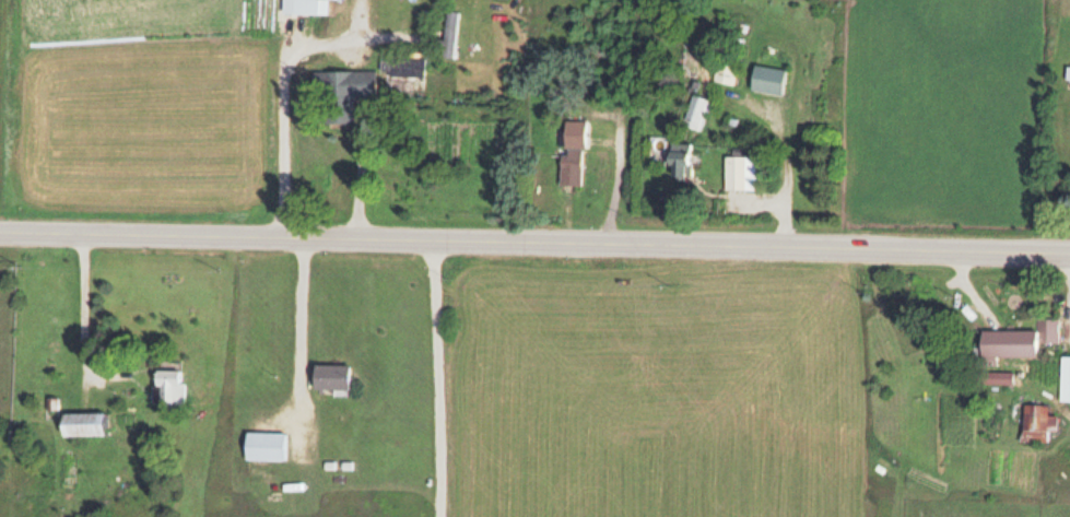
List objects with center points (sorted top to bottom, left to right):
building: (304, 7)
building: (449, 33)
building: (401, 64)
building: (724, 72)
building: (766, 79)
building: (339, 93)
building: (695, 111)
building: (679, 160)
building: (569, 166)
building: (739, 172)
road: (534, 242)
building: (1006, 343)
building: (329, 374)
building: (1063, 377)
building: (167, 384)
building: (82, 421)
building: (1036, 422)
building: (263, 443)

